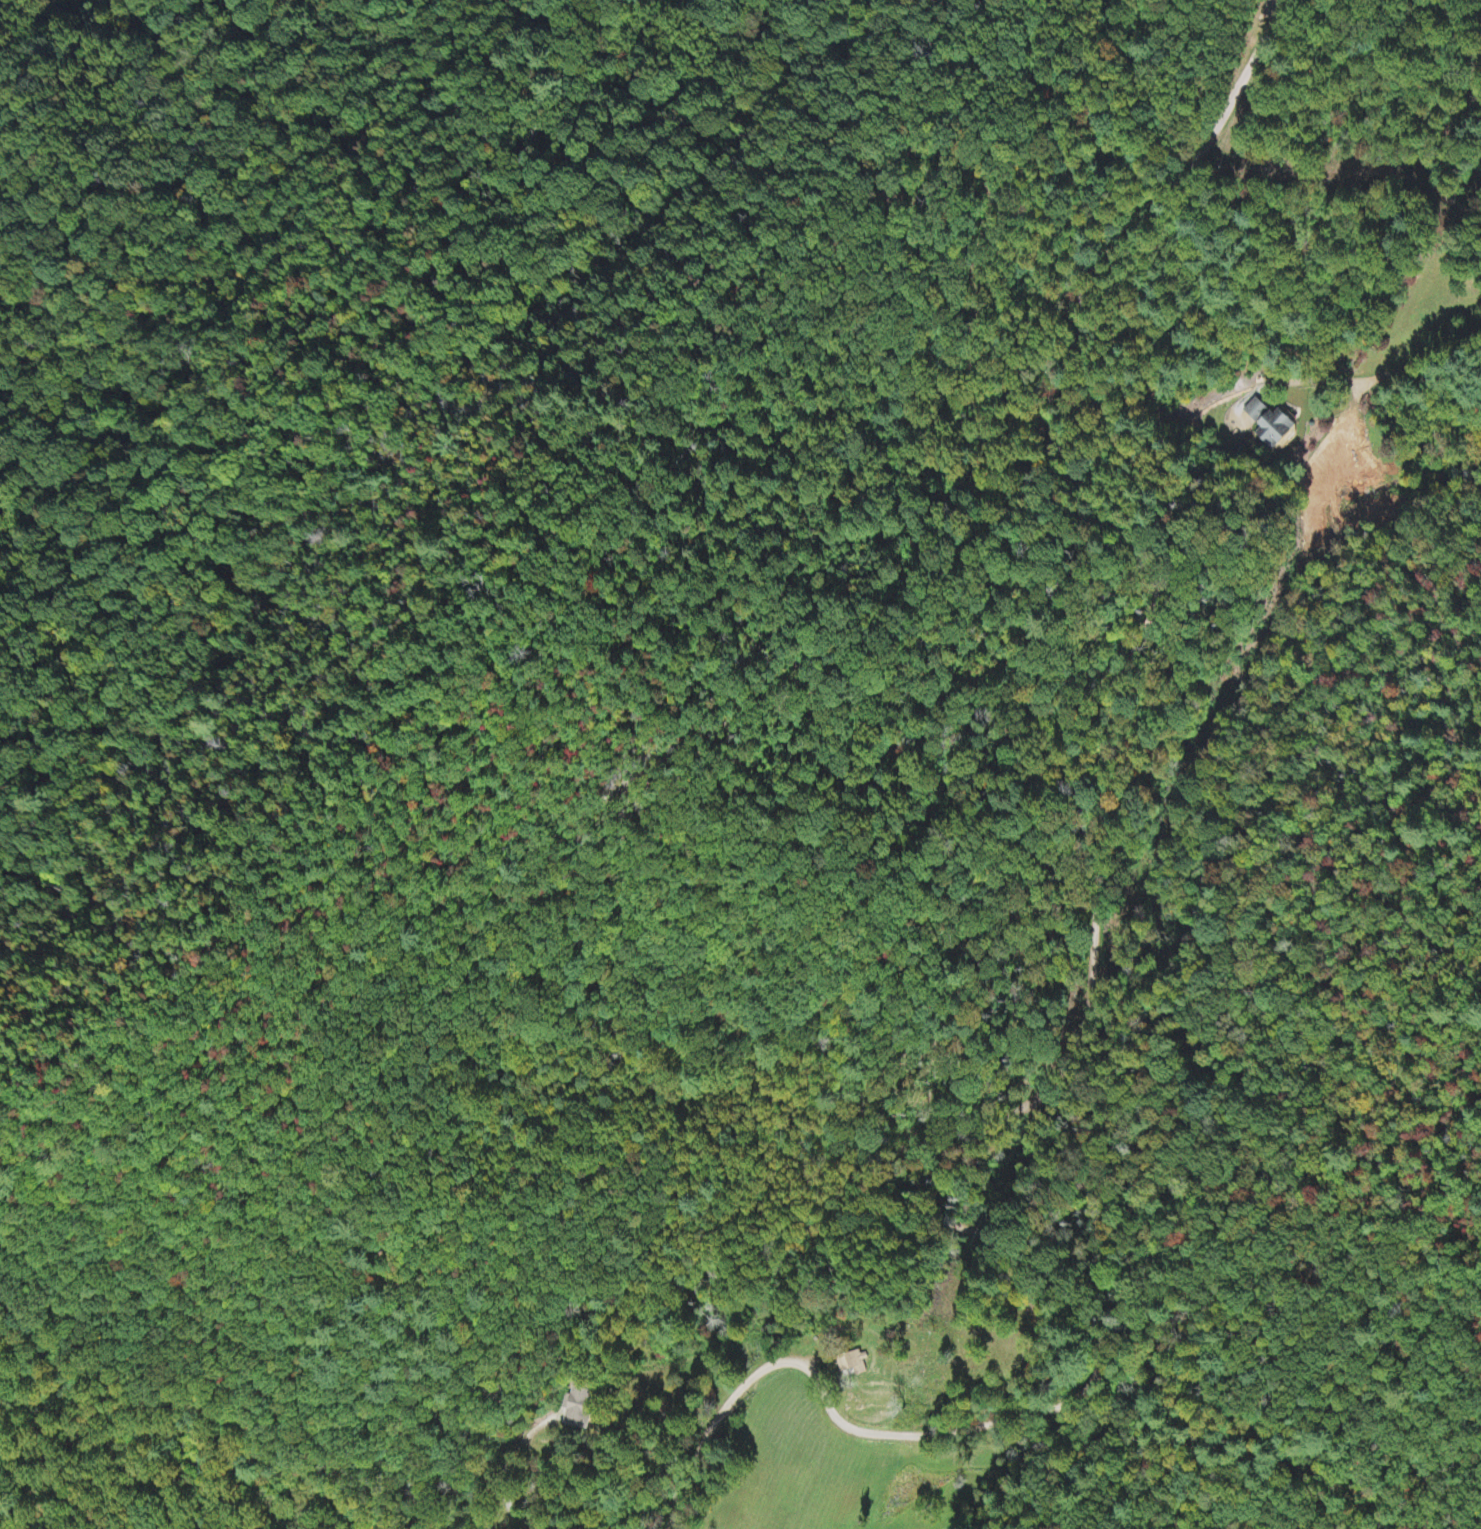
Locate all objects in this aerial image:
road: (1397, 160)
road: (1258, 390)
building: (1268, 424)
road: (978, 1029)
building: (580, 1410)

